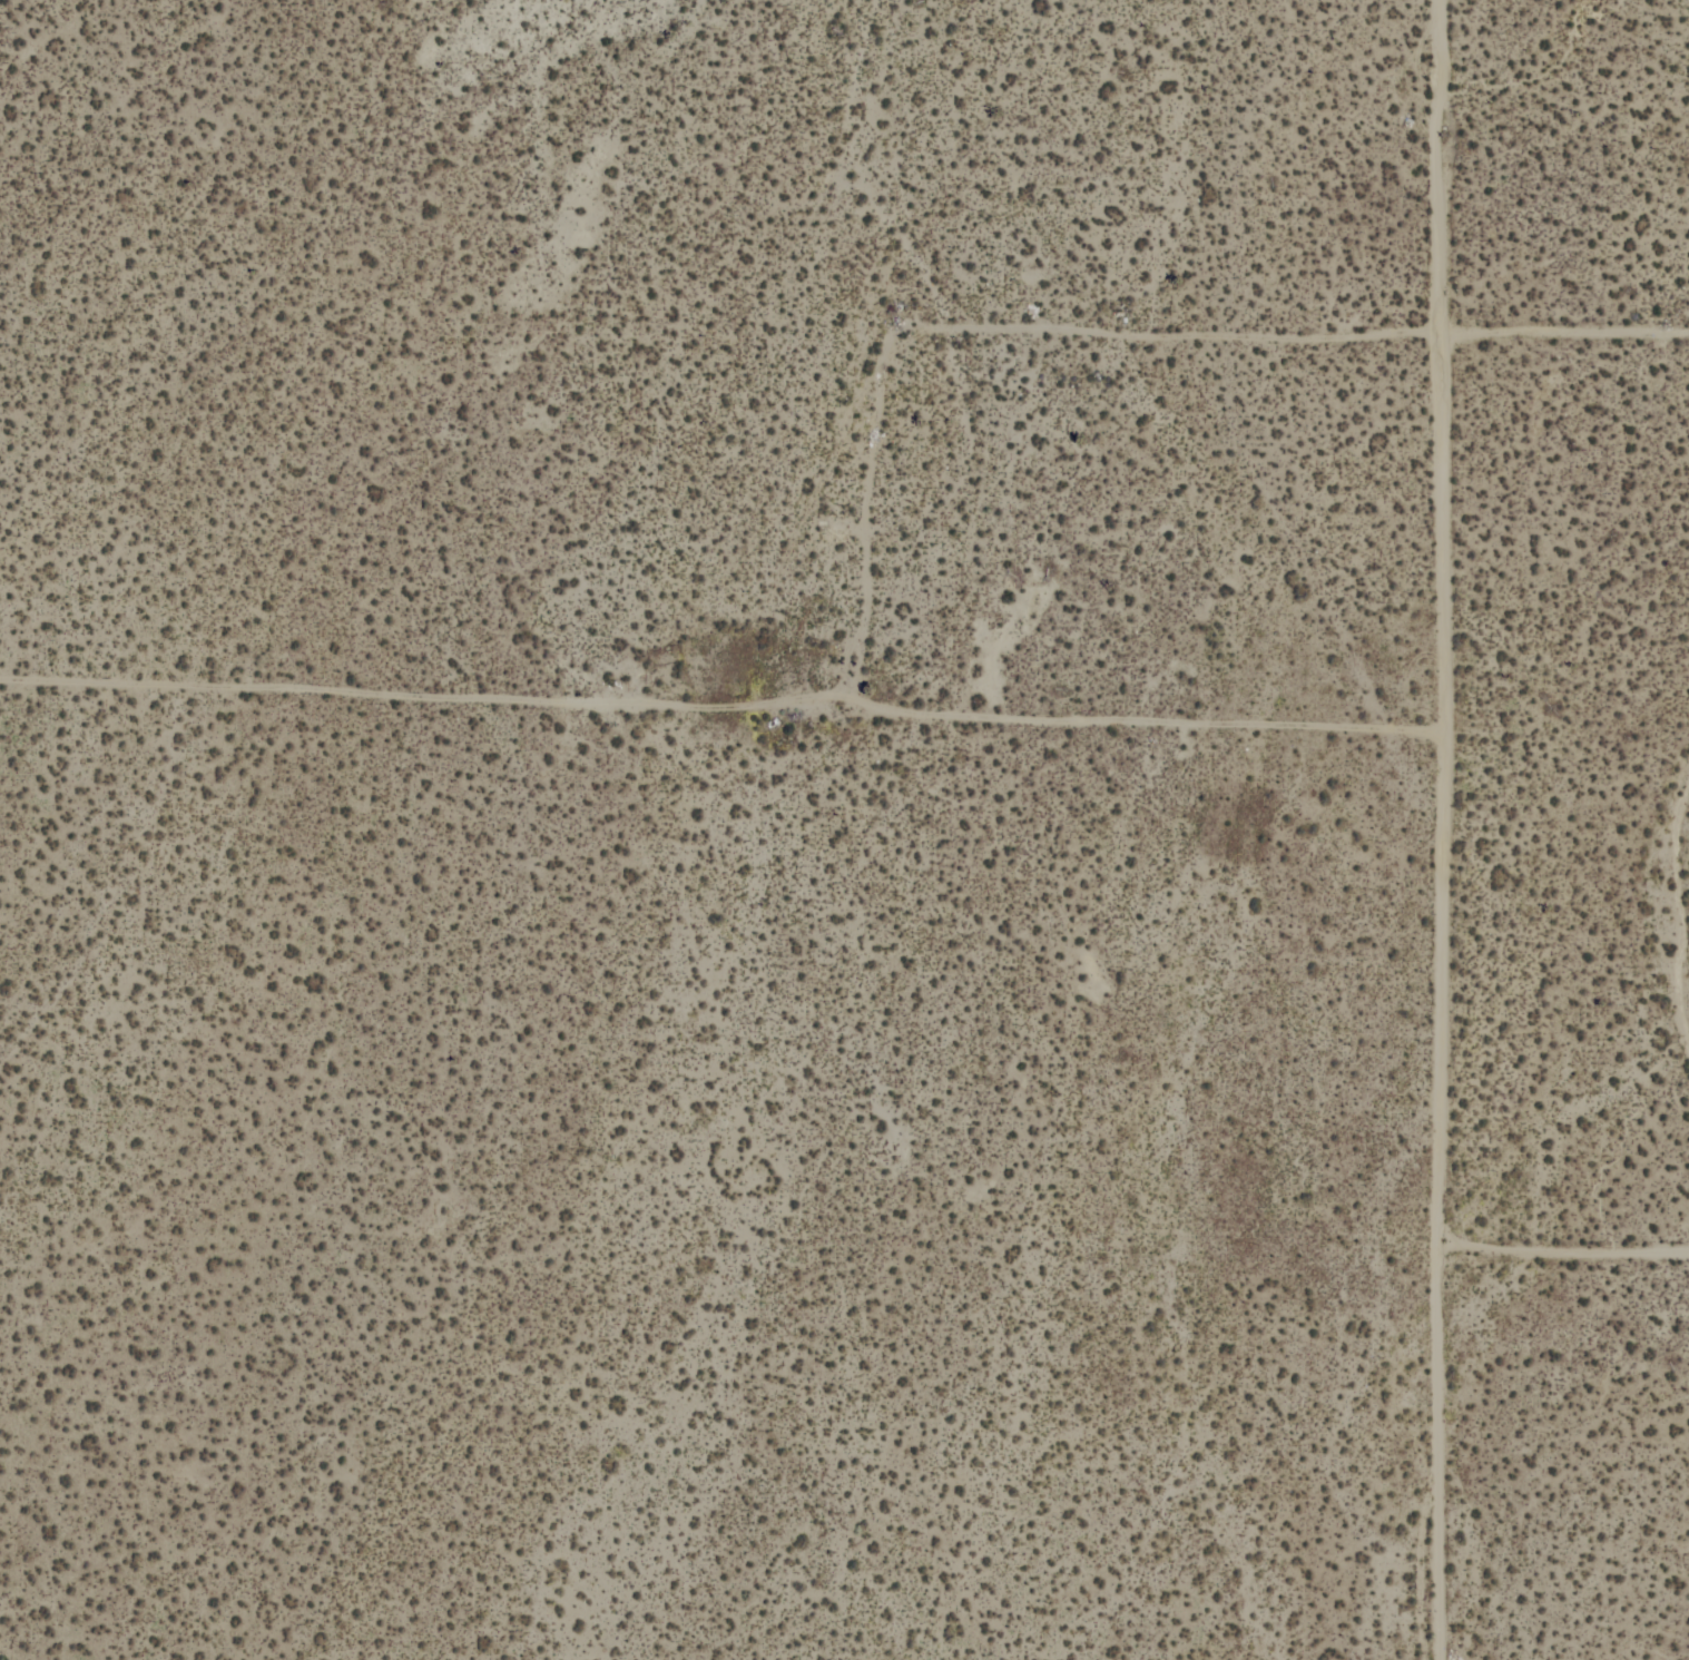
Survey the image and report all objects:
road: (1161, 337)
road: (873, 519)
road: (1454, 829)
road: (1572, 1253)

